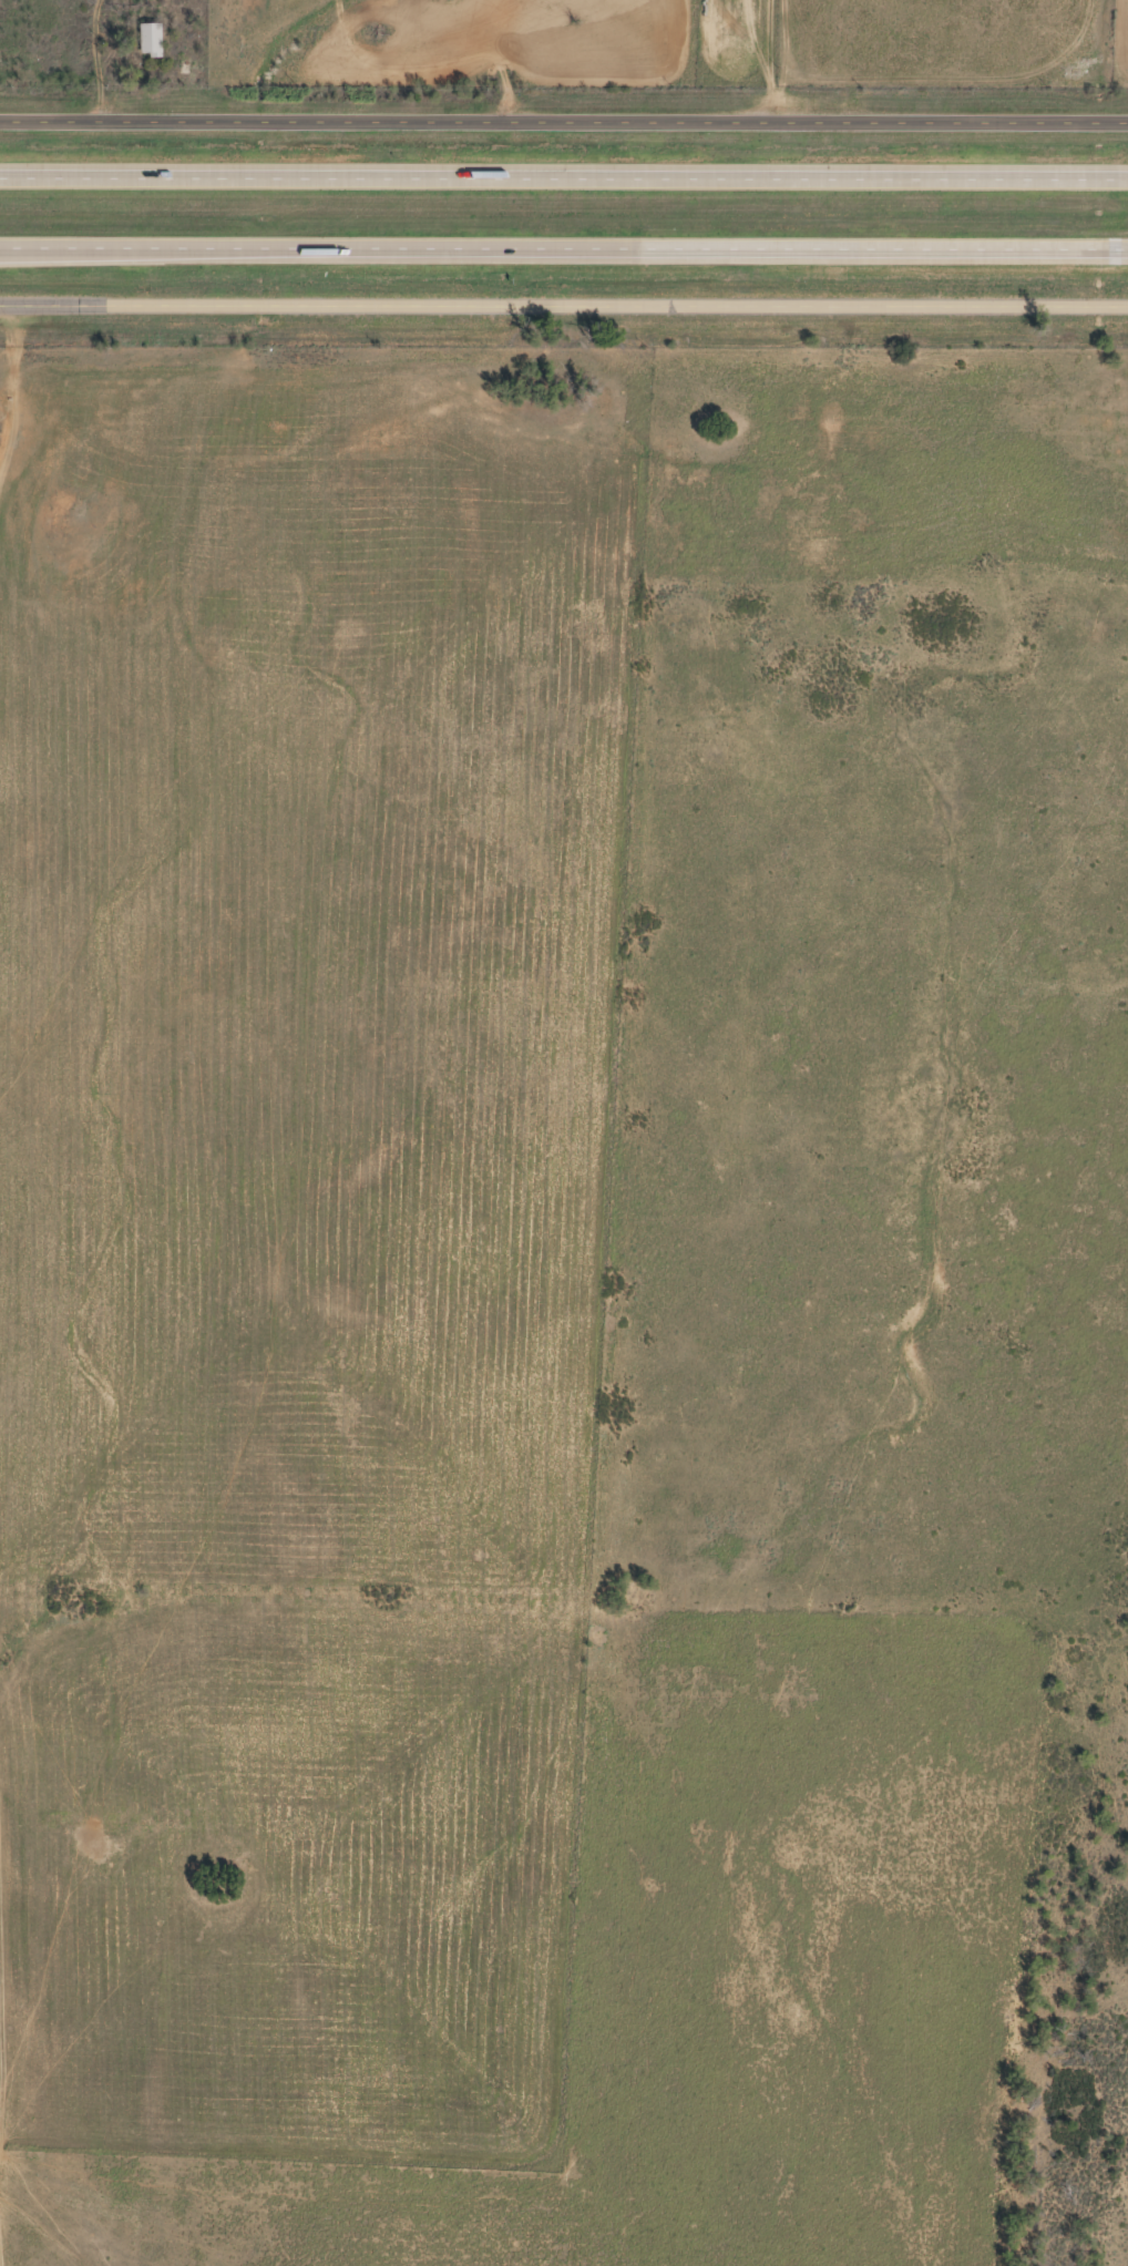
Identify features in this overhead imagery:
building: (148, 38)
road: (434, 73)
road: (564, 120)
road: (564, 175)
road: (563, 248)
road: (563, 301)

